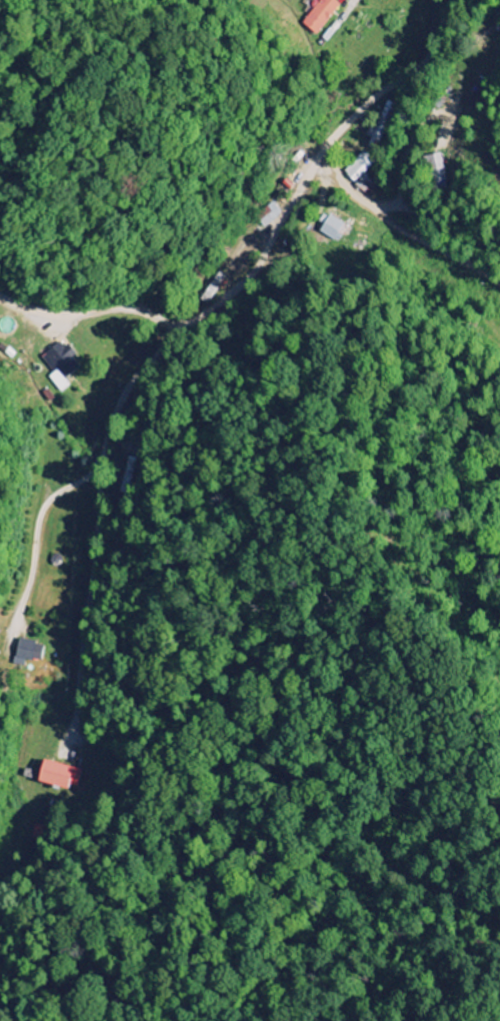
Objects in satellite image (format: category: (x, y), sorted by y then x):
building: (319, 15)
building: (382, 123)
building: (360, 168)
building: (438, 168)
building: (331, 229)
road: (402, 231)
road: (191, 316)
building: (59, 365)
road: (140, 409)
building: (28, 651)
building: (58, 776)

